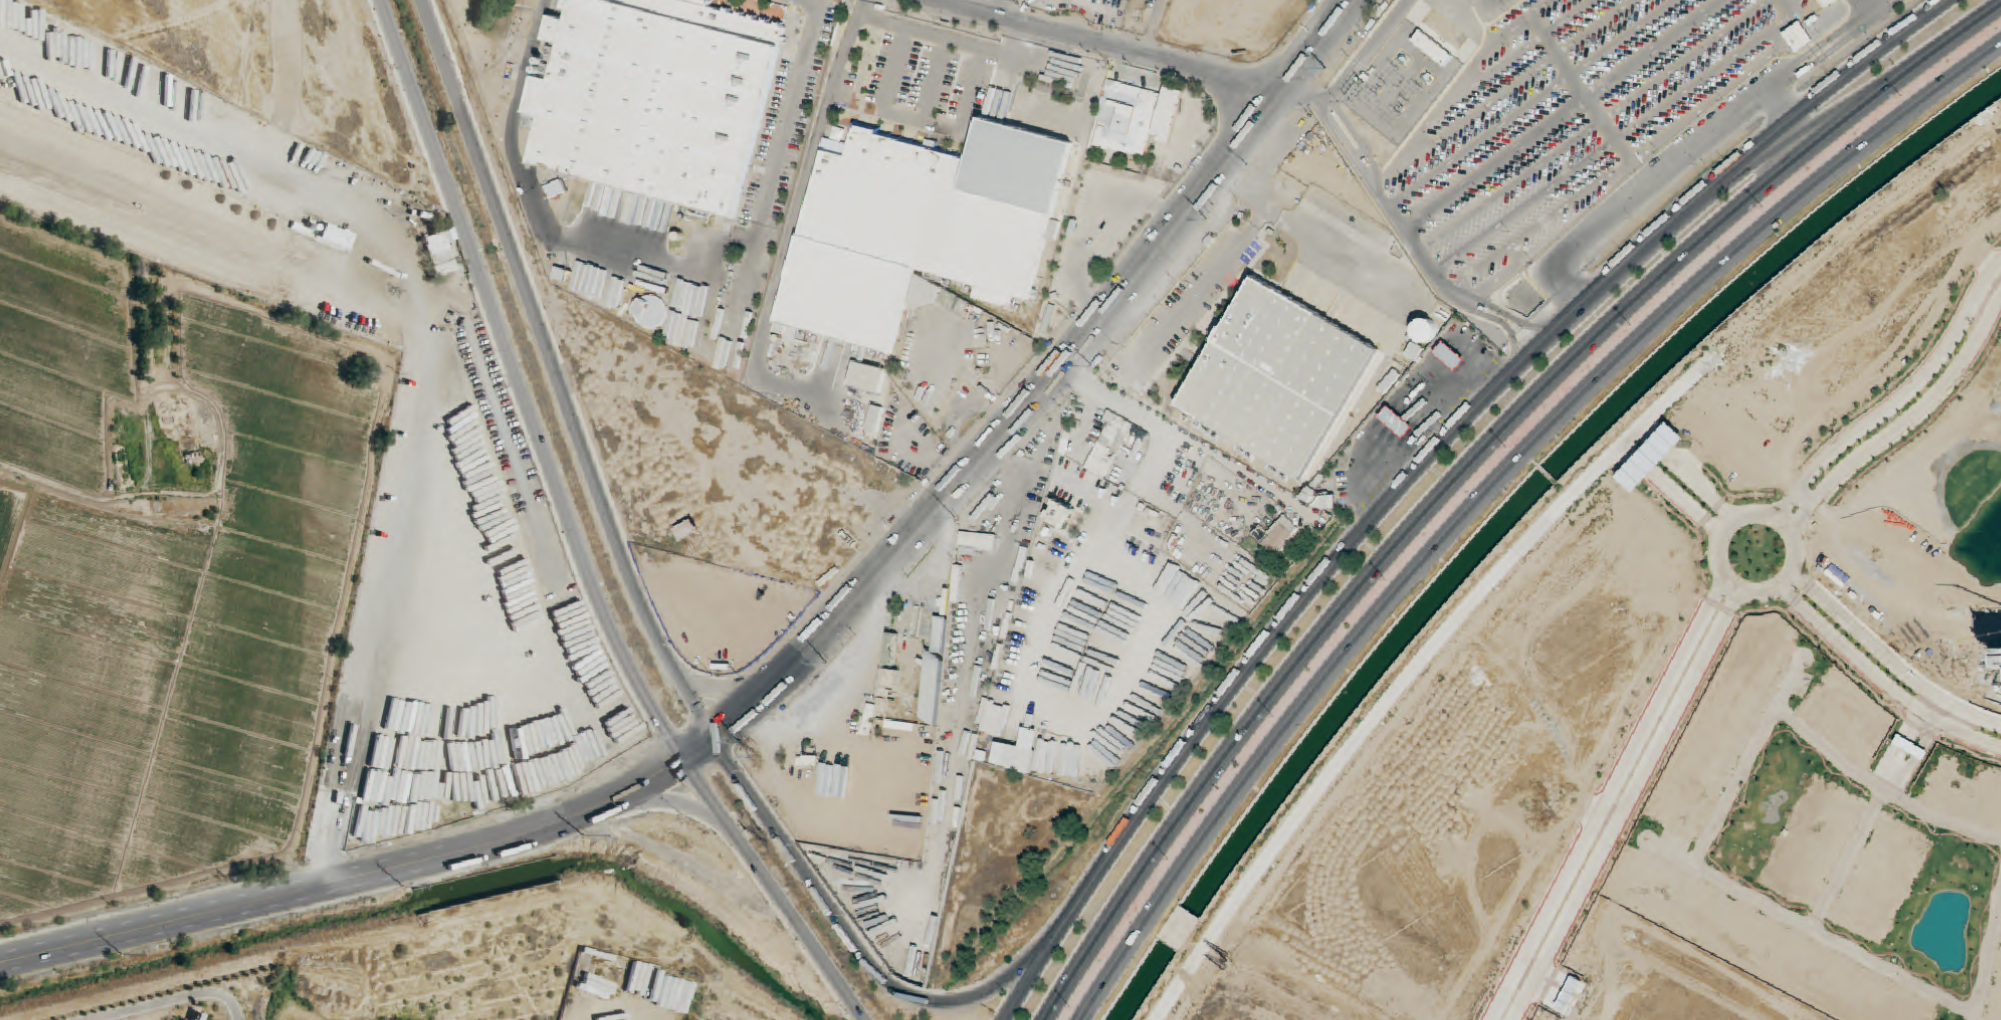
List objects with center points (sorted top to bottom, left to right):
road: (1365, 54)
power substation: (1402, 84)
road: (1704, 143)
road: (1095, 314)
road: (1897, 399)
road: (1901, 422)
road: (1426, 462)
road: (1471, 465)
road: (1489, 484)
road: (1890, 659)
road: (1879, 683)
power tower: (752, 759)

